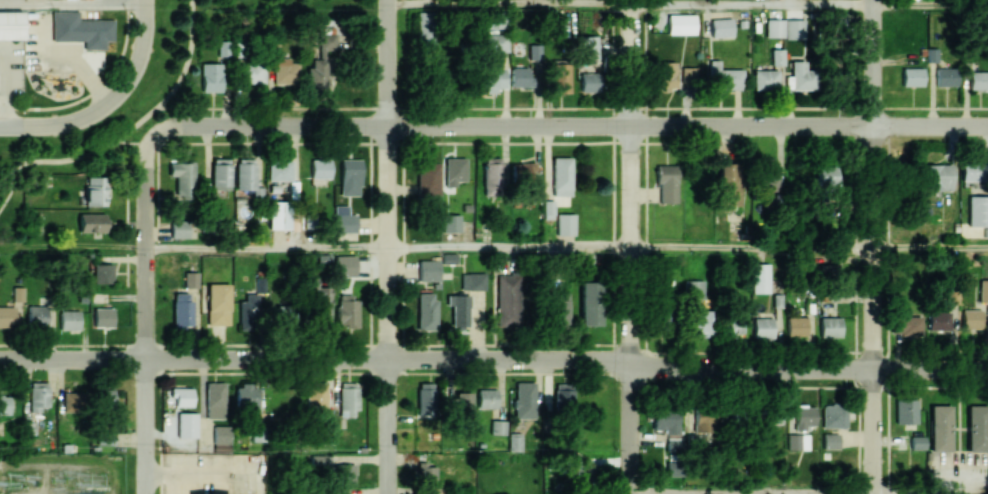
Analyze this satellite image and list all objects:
road: (509, 1)
road: (72, 2)
road: (751, 2)
road: (930, 3)
building: (488, 22)
building: (11, 24)
building: (681, 24)
building: (424, 27)
building: (774, 27)
building: (81, 28)
building: (721, 28)
building: (794, 29)
building: (496, 42)
building: (589, 47)
building: (533, 51)
road: (139, 56)
building: (320, 64)
building: (252, 71)
building: (284, 72)
building: (666, 74)
building: (688, 75)
building: (801, 76)
building: (912, 76)
building: (945, 76)
building: (210, 77)
building: (520, 77)
building: (560, 77)
building: (839, 78)
building: (494, 79)
building: (725, 79)
building: (764, 79)
building: (978, 80)
road: (177, 81)
road: (94, 82)
building: (590, 82)
road: (95, 89)
road: (6, 92)
road: (571, 108)
road: (56, 123)
road: (390, 125)
road: (809, 125)
road: (132, 142)
road: (56, 159)
park: (43, 167)
building: (320, 168)
building: (279, 170)
building: (452, 171)
building: (521, 171)
building: (973, 171)
building: (220, 173)
building: (246, 175)
building: (182, 176)
building: (491, 176)
building: (561, 176)
building: (767, 176)
building: (350, 177)
building: (936, 177)
building: (427, 178)
building: (827, 179)
building: (666, 183)
building: (728, 183)
building: (94, 190)
building: (548, 209)
building: (977, 210)
building: (278, 214)
building: (343, 219)
building: (91, 222)
building: (450, 223)
building: (565, 224)
building: (179, 229)
road: (387, 246)
road: (872, 246)
road: (72, 247)
road: (266, 247)
road: (509, 247)
road: (631, 247)
road: (752, 247)
road: (930, 248)
building: (448, 258)
building: (323, 260)
building: (344, 265)
building: (428, 270)
building: (102, 273)
building: (759, 278)
building: (190, 279)
building: (472, 281)
building: (693, 289)
building: (983, 289)
building: (17, 293)
building: (509, 299)
building: (589, 303)
building: (217, 304)
building: (559, 308)
building: (181, 309)
building: (458, 310)
building: (426, 311)
building: (248, 312)
building: (347, 312)
road: (144, 313)
building: (7, 316)
building: (36, 316)
building: (284, 316)
building: (102, 317)
building: (69, 319)
building: (971, 319)
building: (939, 320)
building: (701, 323)
building: (796, 325)
building: (906, 325)
building: (830, 326)
building: (762, 327)
road: (316, 359)
road: (809, 368)
building: (315, 394)
building: (563, 394)
building: (38, 395)
building: (182, 396)
building: (425, 398)
building: (486, 398)
building: (105, 399)
building: (247, 399)
building: (348, 399)
building: (524, 399)
building: (215, 400)
building: (73, 402)
building: (4, 404)
building: (459, 404)
building: (905, 410)
building: (833, 415)
building: (771, 417)
building: (804, 417)
building: (701, 421)
building: (186, 424)
building: (977, 427)
building: (668, 428)
building: (940, 428)
building: (257, 433)
building: (104, 437)
building: (221, 437)
building: (830, 440)
building: (514, 441)
building: (797, 441)
building: (917, 442)
building: (317, 459)
building: (672, 468)
building: (344, 473)
building: (426, 473)
road: (221, 474)
road: (166, 476)
road: (609, 479)
road: (644, 493)
road: (752, 493)

